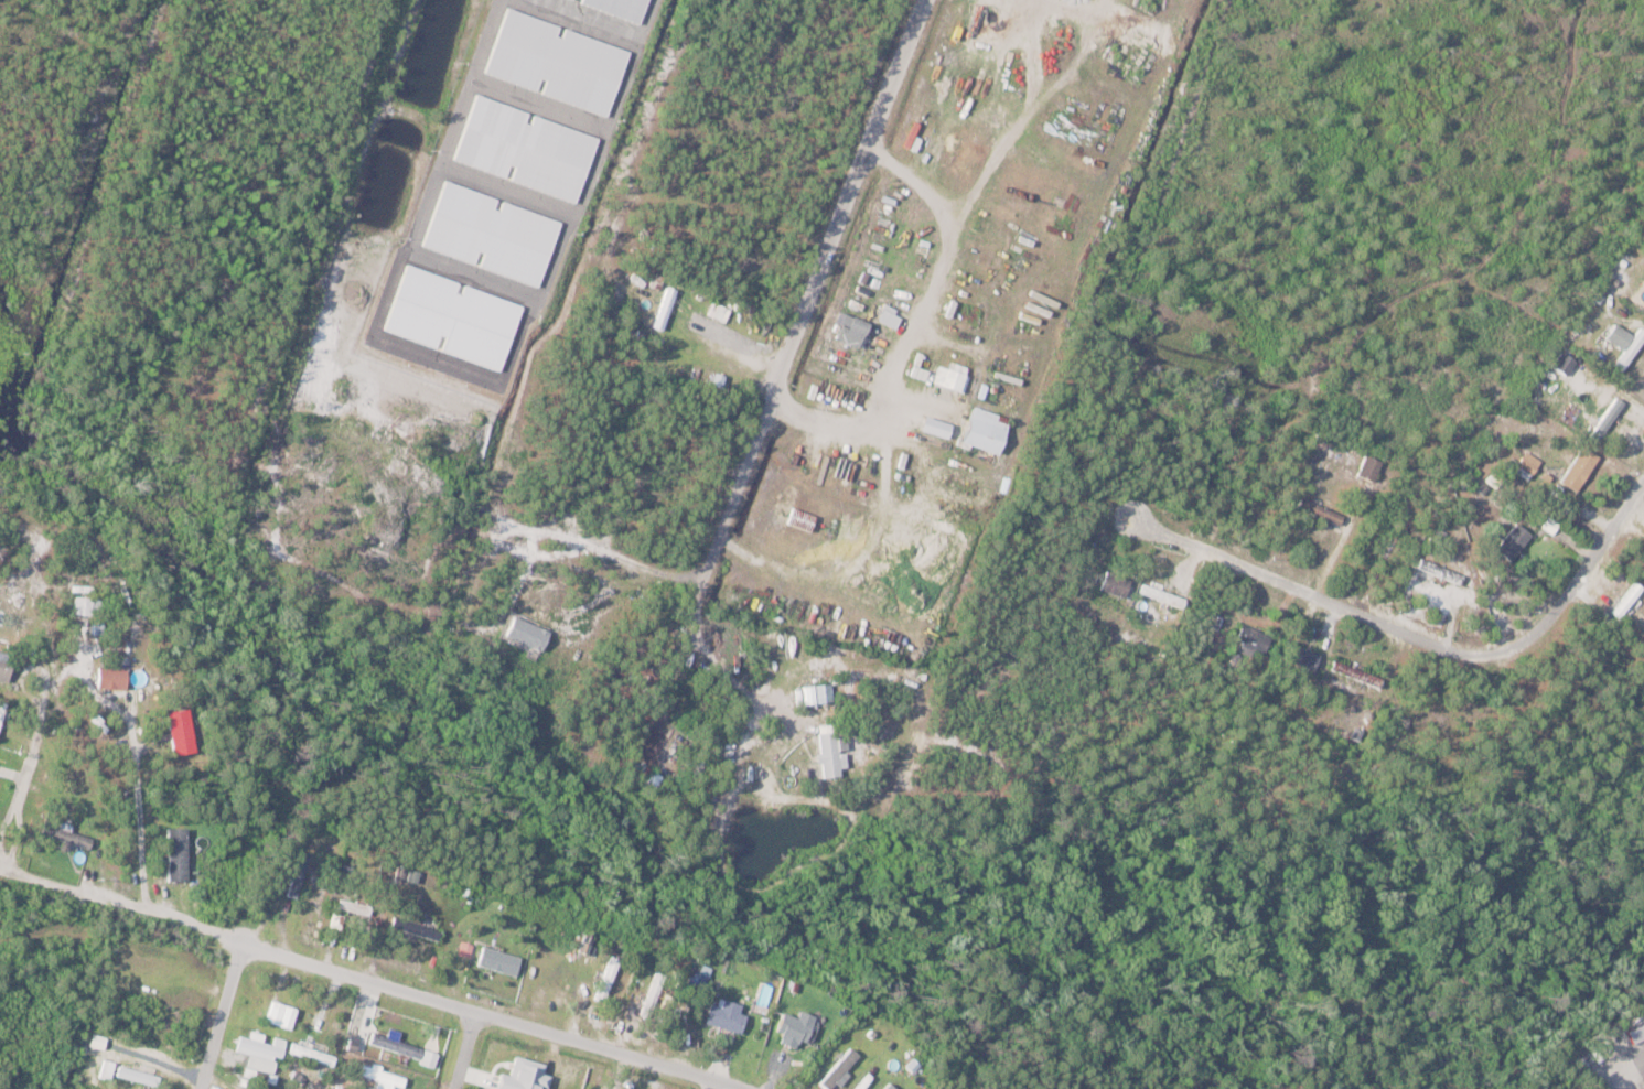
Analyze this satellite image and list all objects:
building: (621, 7)
road: (812, 296)
building: (665, 308)
building: (852, 330)
building: (1626, 344)
building: (1564, 363)
building: (949, 377)
building: (1608, 418)
building: (935, 424)
building: (985, 428)
building: (1369, 467)
building: (1580, 468)
building: (1320, 510)
building: (1514, 540)
building: (1440, 571)
building: (1643, 578)
building: (1116, 583)
building: (1162, 595)
building: (1623, 601)
building: (84, 604)
building: (526, 632)
road: (1418, 640)
building: (1253, 641)
building: (1303, 658)
building: (6, 668)
building: (1356, 673)
road: (731, 675)
building: (112, 676)
road: (670, 682)
building: (817, 692)
building: (2, 710)
building: (182, 730)
building: (828, 753)
road: (25, 770)
building: (653, 779)
road: (140, 810)
building: (67, 834)
building: (178, 852)
building: (299, 873)
building: (355, 906)
building: (417, 928)
building: (499, 959)
building: (609, 978)
road: (365, 983)
building: (728, 1014)
road: (221, 1016)
building: (795, 1028)
building: (1633, 1032)
building: (260, 1046)
building: (402, 1046)
road: (465, 1052)
building: (312, 1053)
building: (107, 1068)
building: (842, 1068)
building: (140, 1070)
building: (383, 1075)
road: (710, 1085)
building: (891, 1086)
building: (265, 1087)
building: (1642, 1087)

